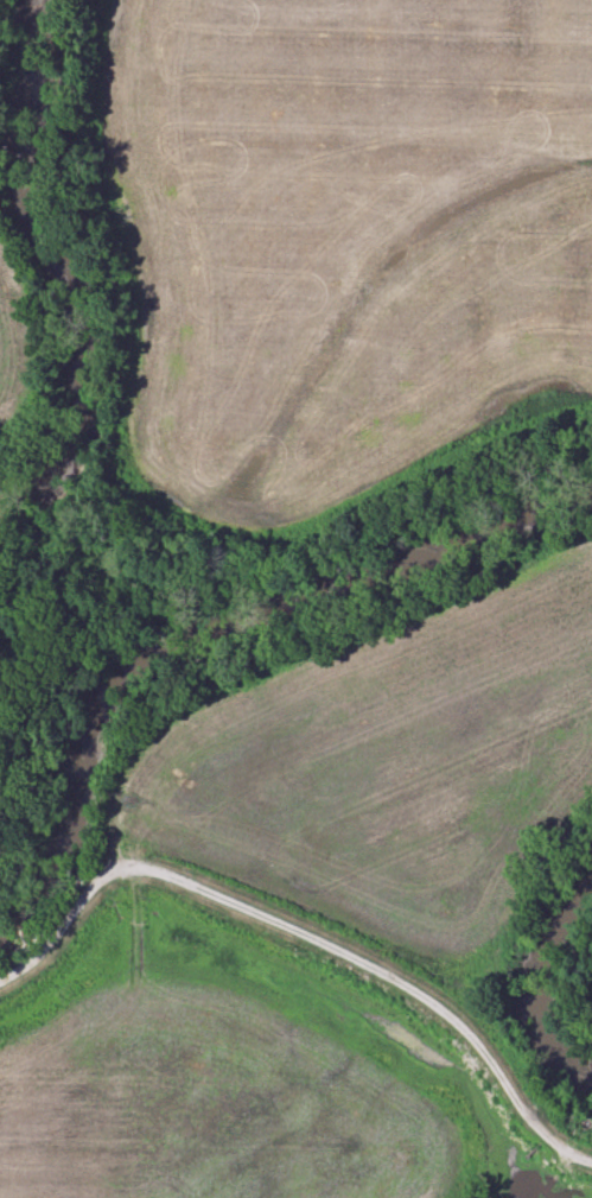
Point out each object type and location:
river: (47, 258)
river: (211, 623)
river: (537, 983)

